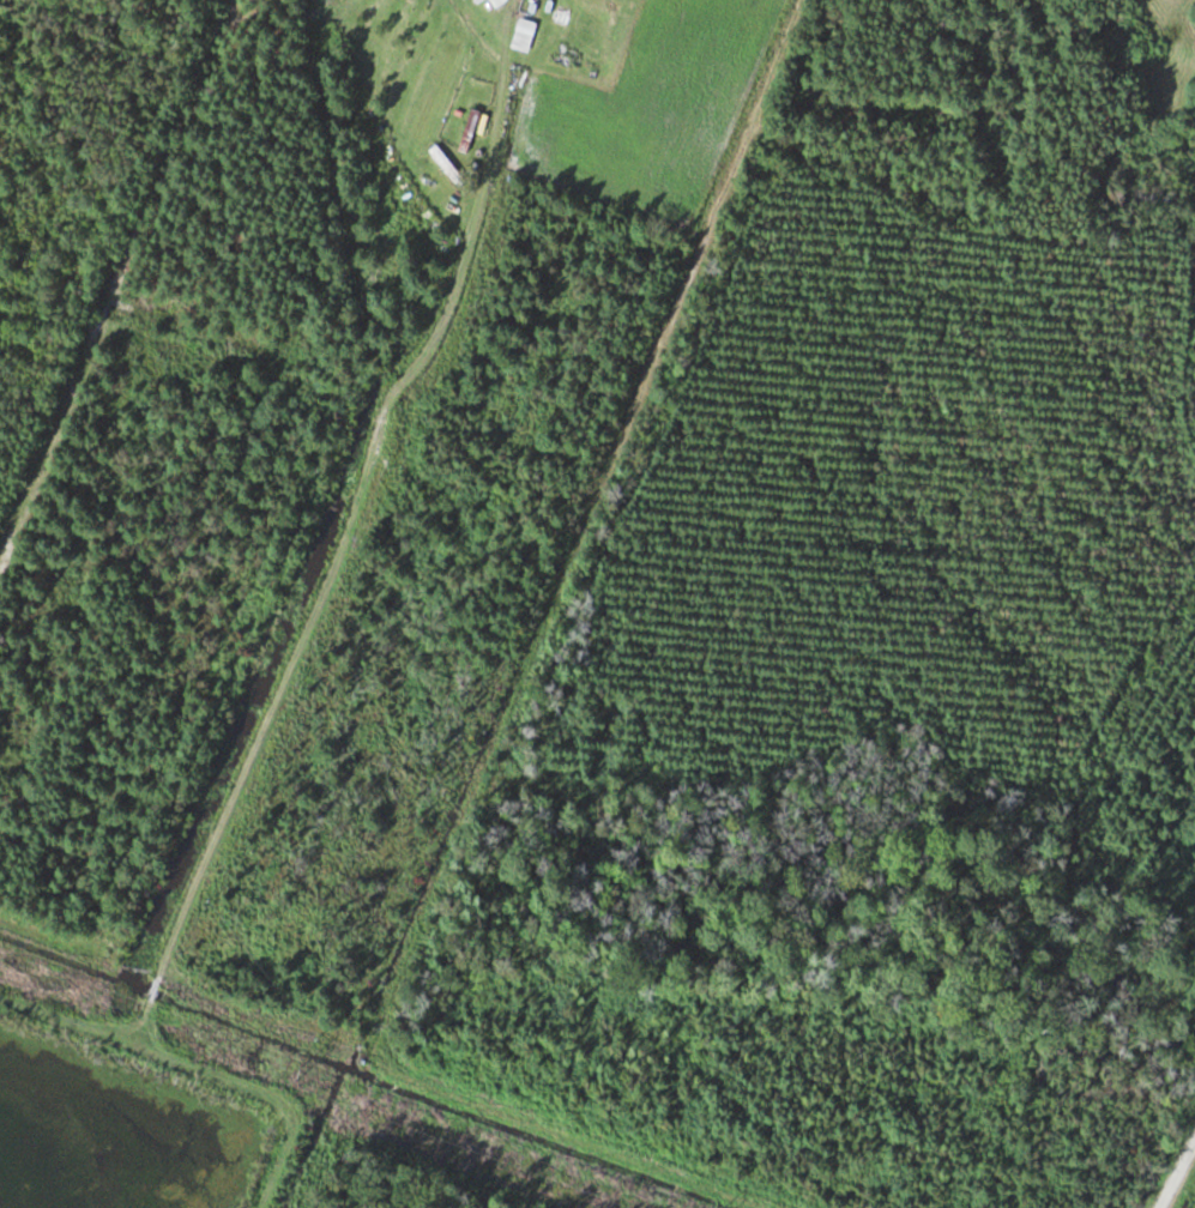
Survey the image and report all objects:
building: (497, 2)
building: (523, 35)
road: (346, 525)
power tower: (300, 1073)
road: (1178, 1172)

